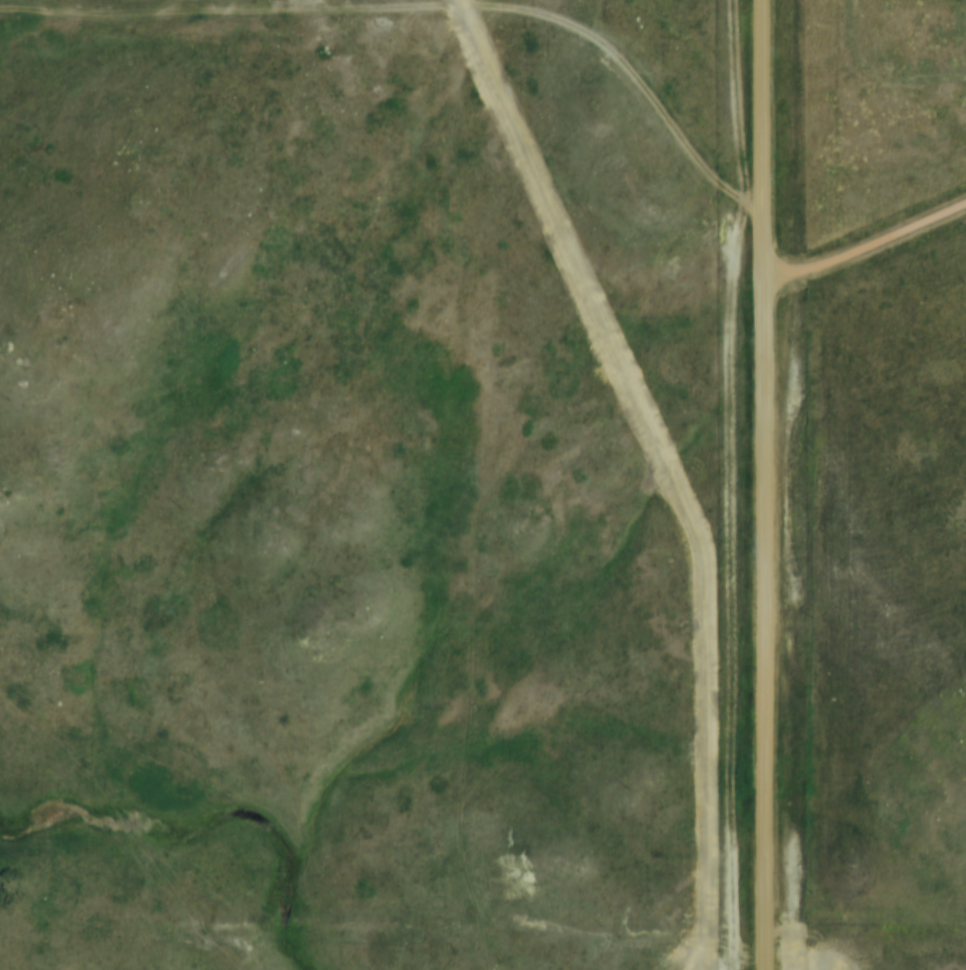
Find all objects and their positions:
road: (864, 242)
road: (672, 476)
road: (763, 485)

